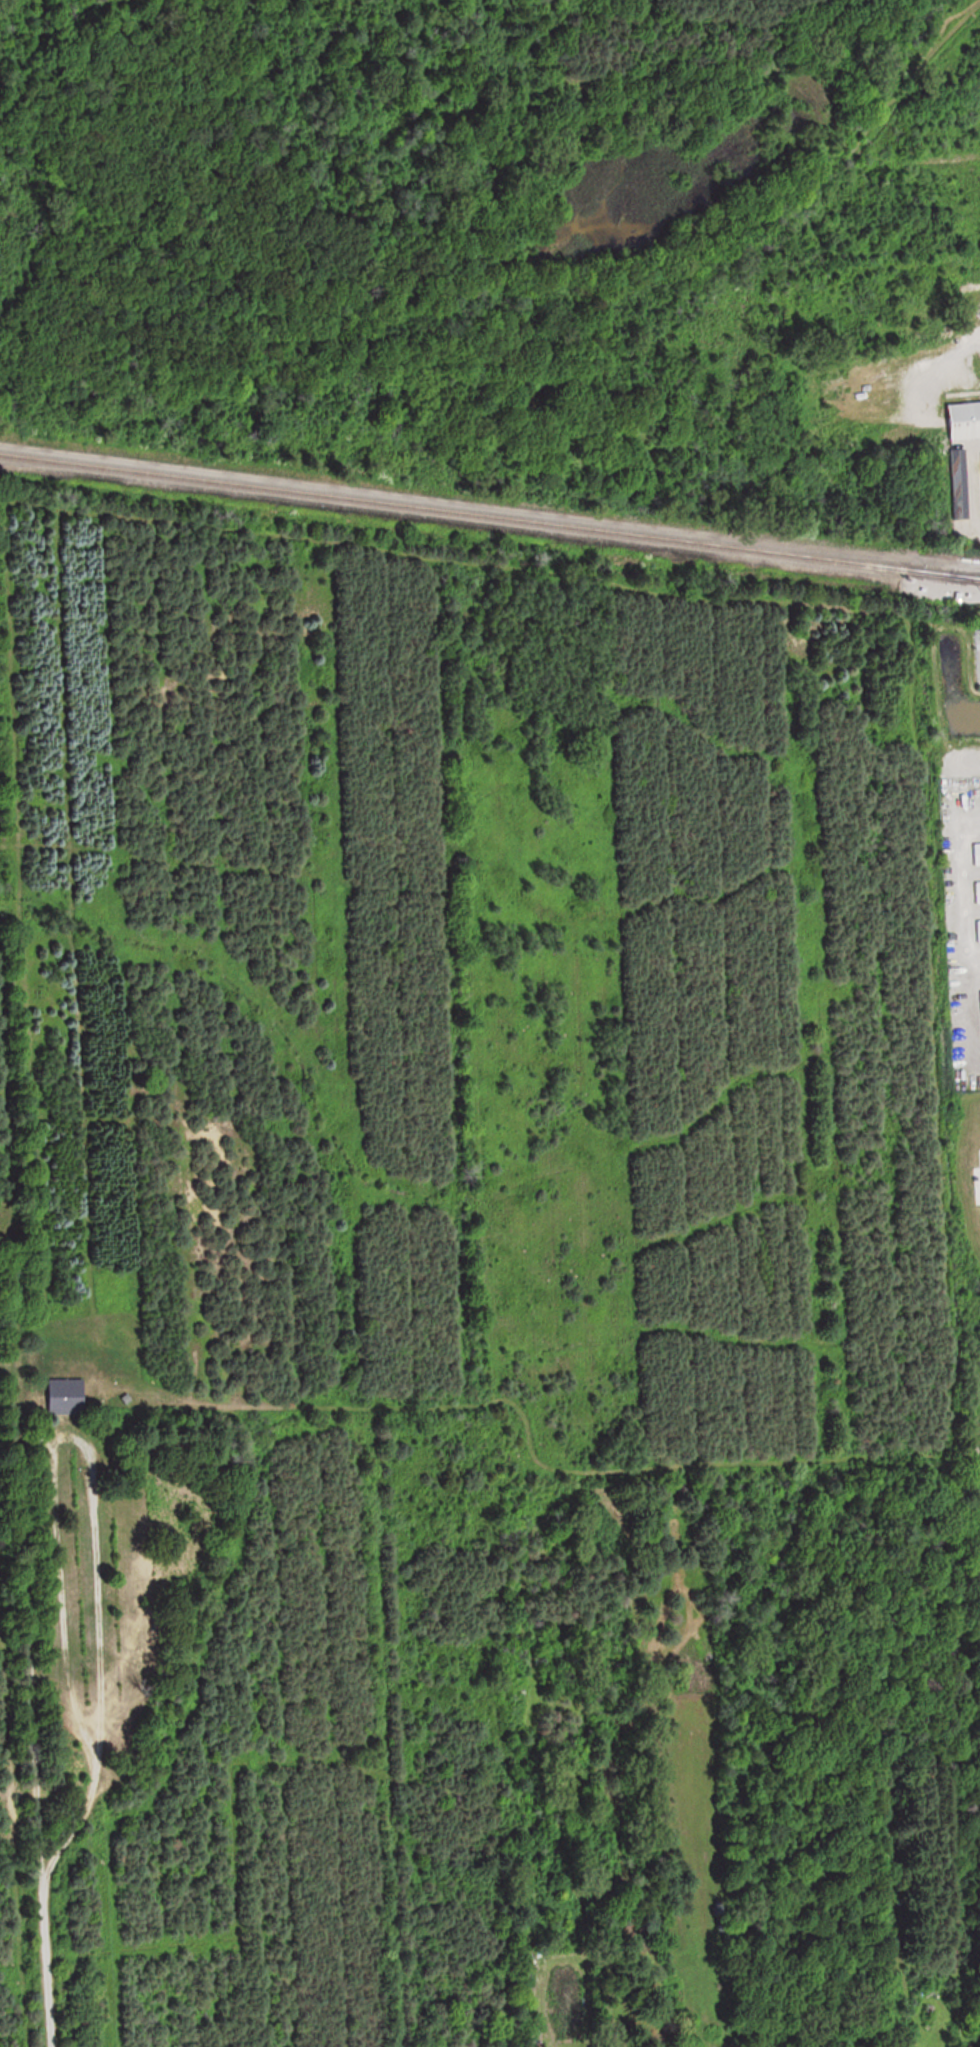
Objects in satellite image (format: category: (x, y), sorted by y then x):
road: (961, 349)
building: (966, 420)
building: (961, 481)
railway: (476, 515)
railway: (966, 578)
railway: (966, 578)
building: (976, 853)
building: (977, 892)
building: (978, 930)
building: (66, 1396)

